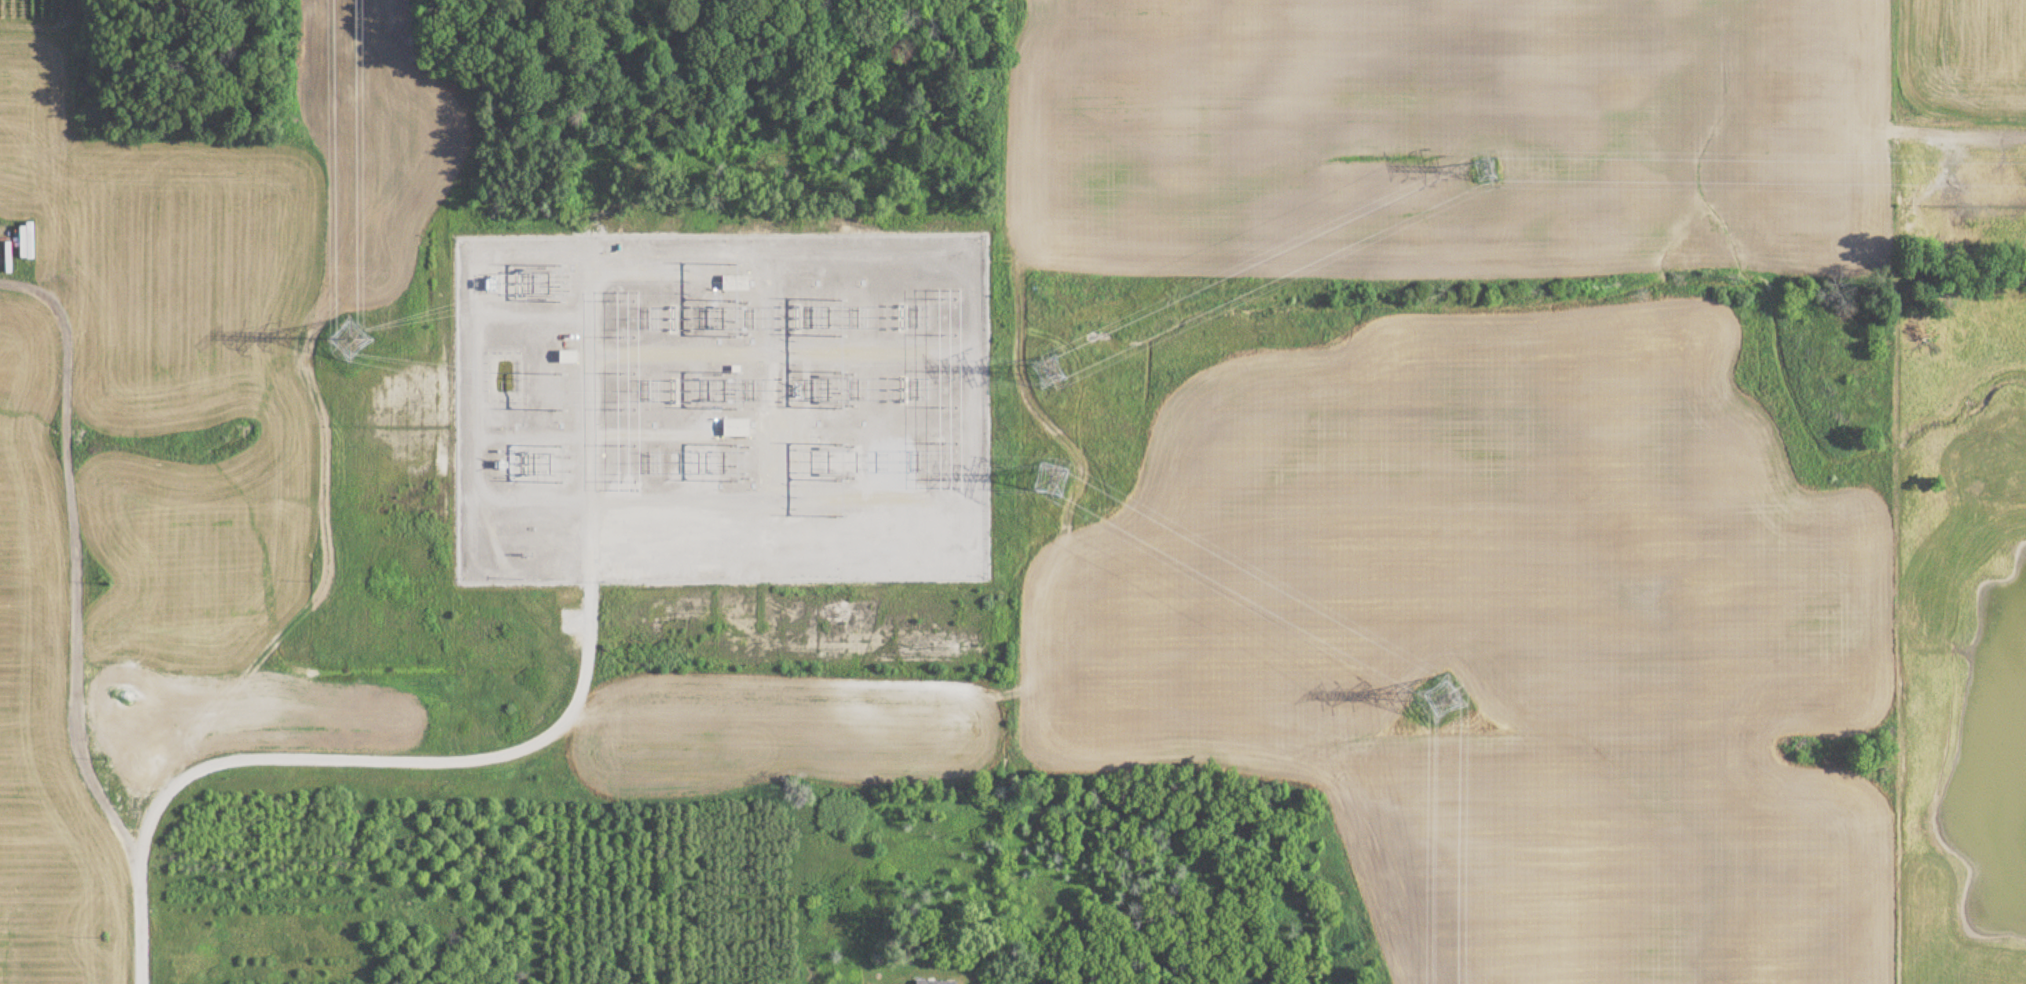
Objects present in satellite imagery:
power tower: (1478, 153)
road: (573, 250)
road: (690, 251)
building: (734, 280)
road: (532, 318)
power tower: (358, 348)
road: (781, 353)
building: (570, 355)
power tower: (1056, 369)
power substation: (719, 404)
road: (971, 413)
building: (736, 425)
road: (588, 427)
power tower: (1058, 480)
road: (759, 497)
road: (74, 557)
road: (579, 618)
power tower: (1437, 688)
road: (340, 757)
building: (935, 982)
building: (1019, 982)

